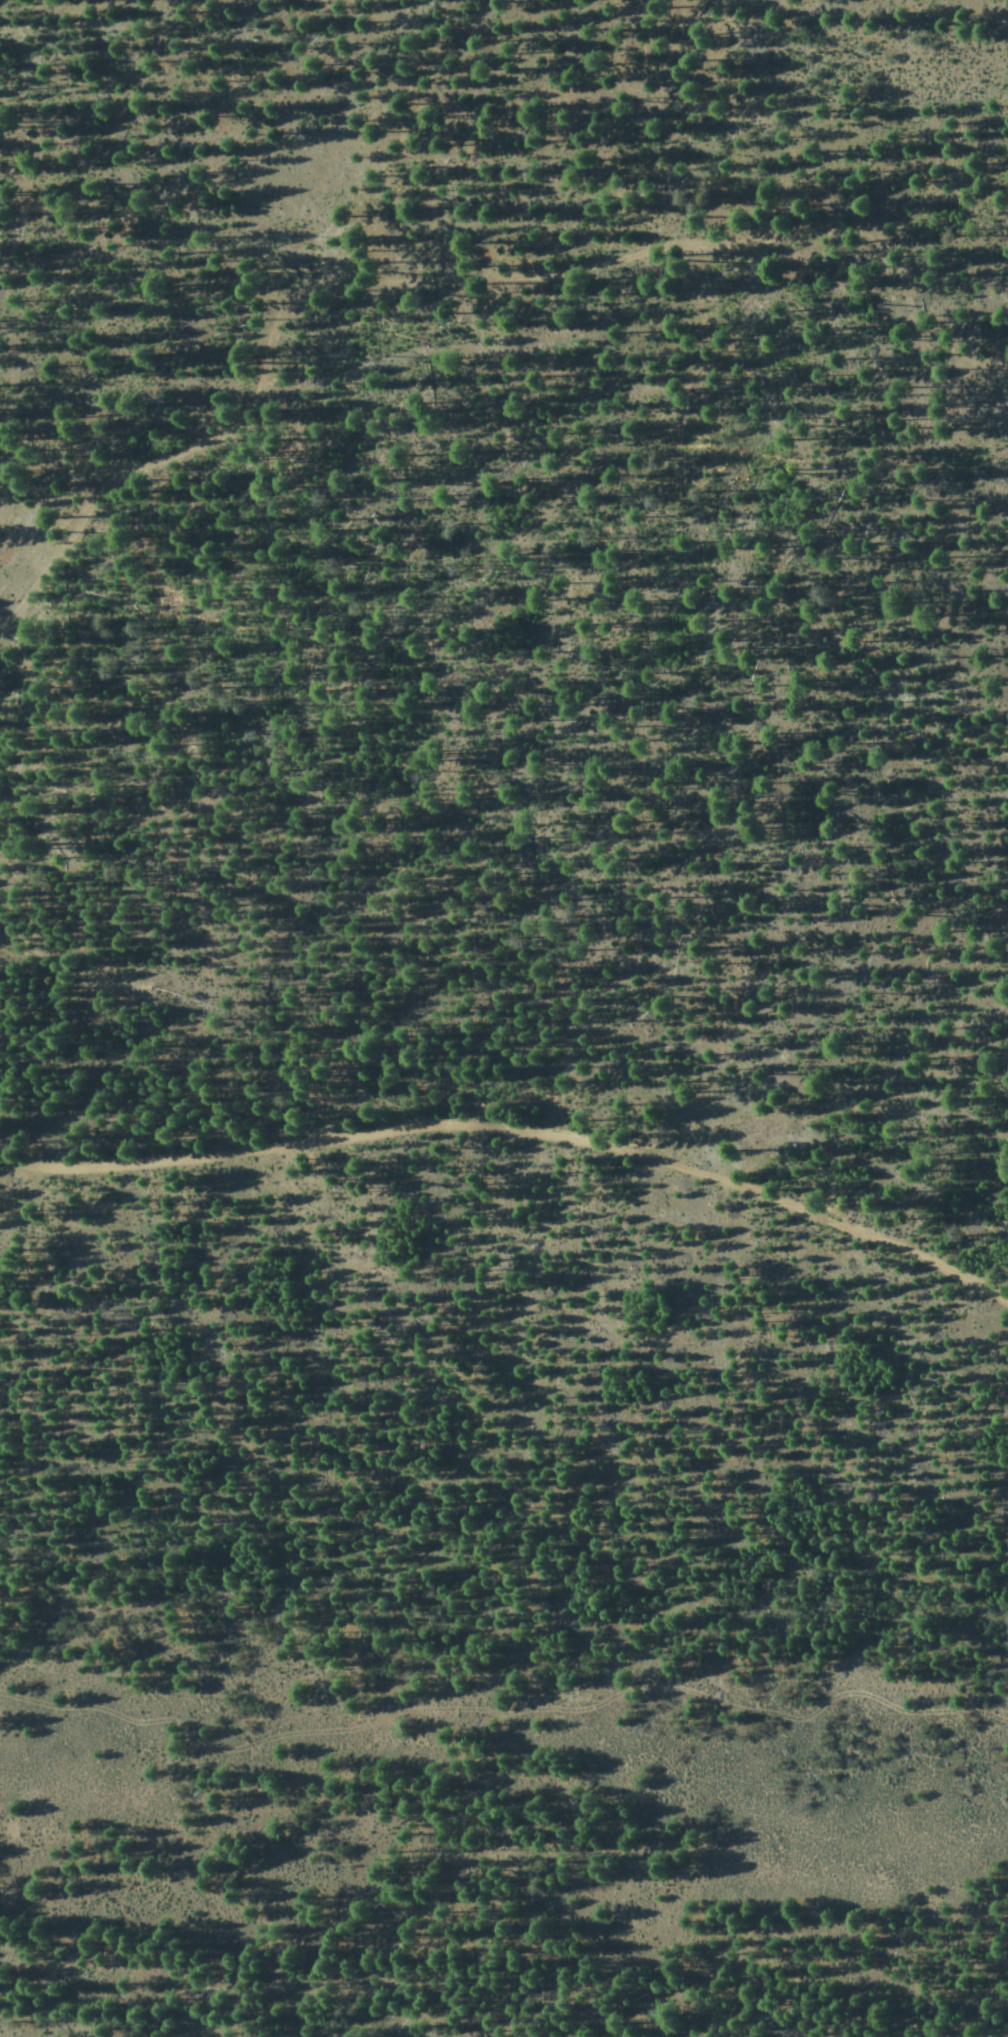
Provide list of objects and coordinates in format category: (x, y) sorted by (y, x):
road: (500, 1145)

